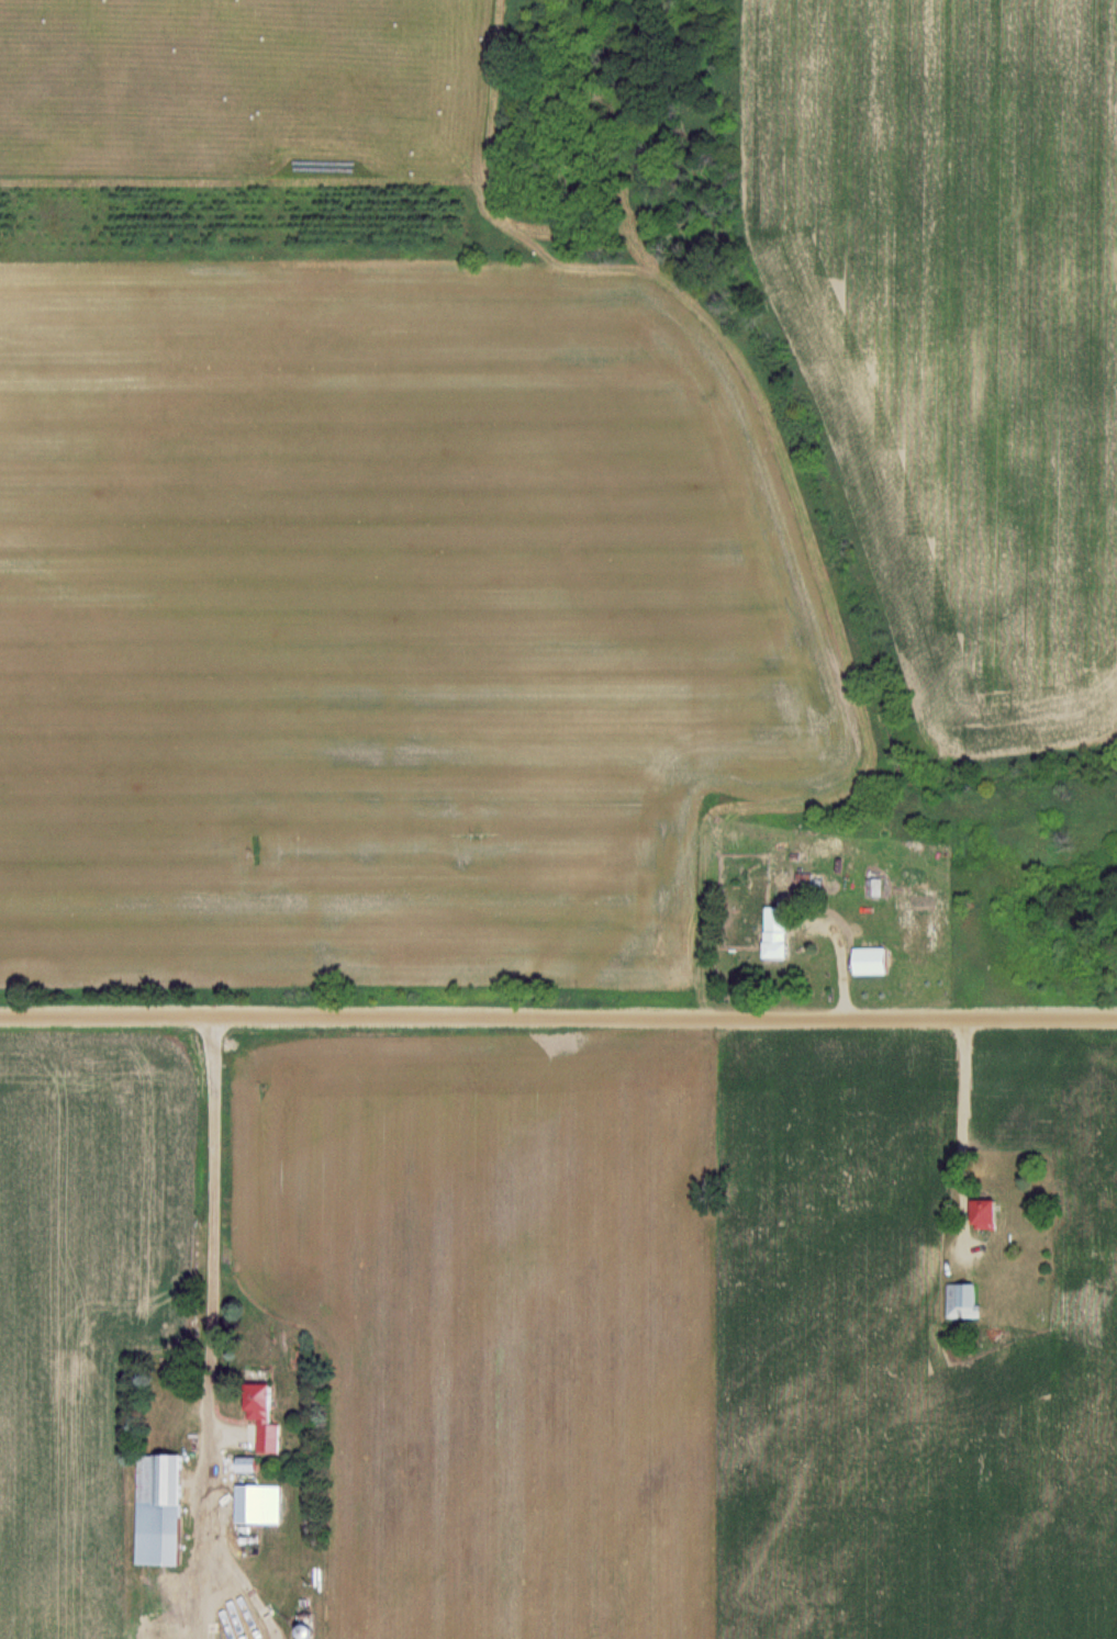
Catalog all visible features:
building: (924, 925)
building: (782, 938)
road: (558, 1017)
road: (959, 1135)
building: (991, 1213)
road: (213, 1266)
building: (965, 1295)
building: (269, 1415)
building: (253, 1464)
building: (261, 1504)
building: (164, 1509)

